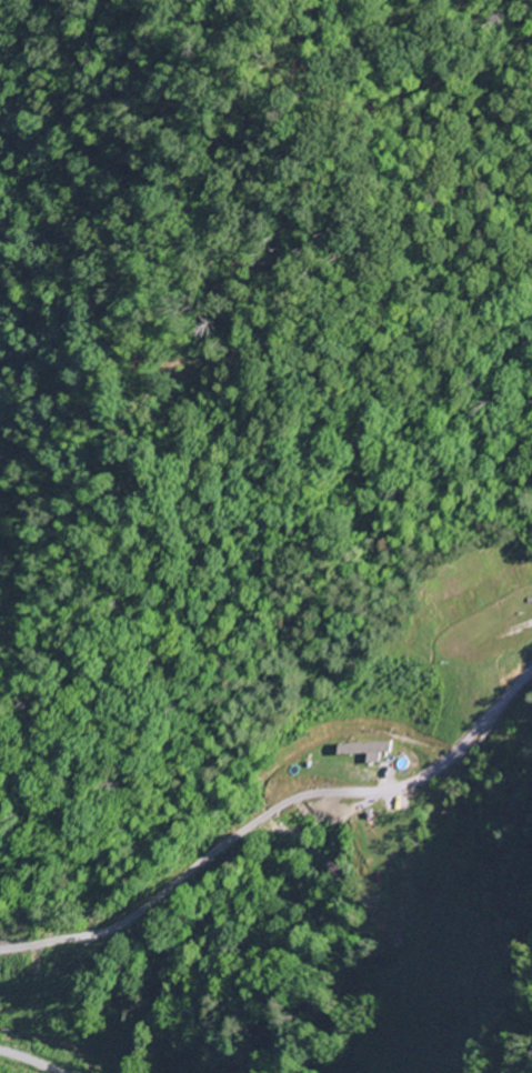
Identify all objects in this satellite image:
building: (358, 751)
road: (269, 806)
road: (29, 1061)

